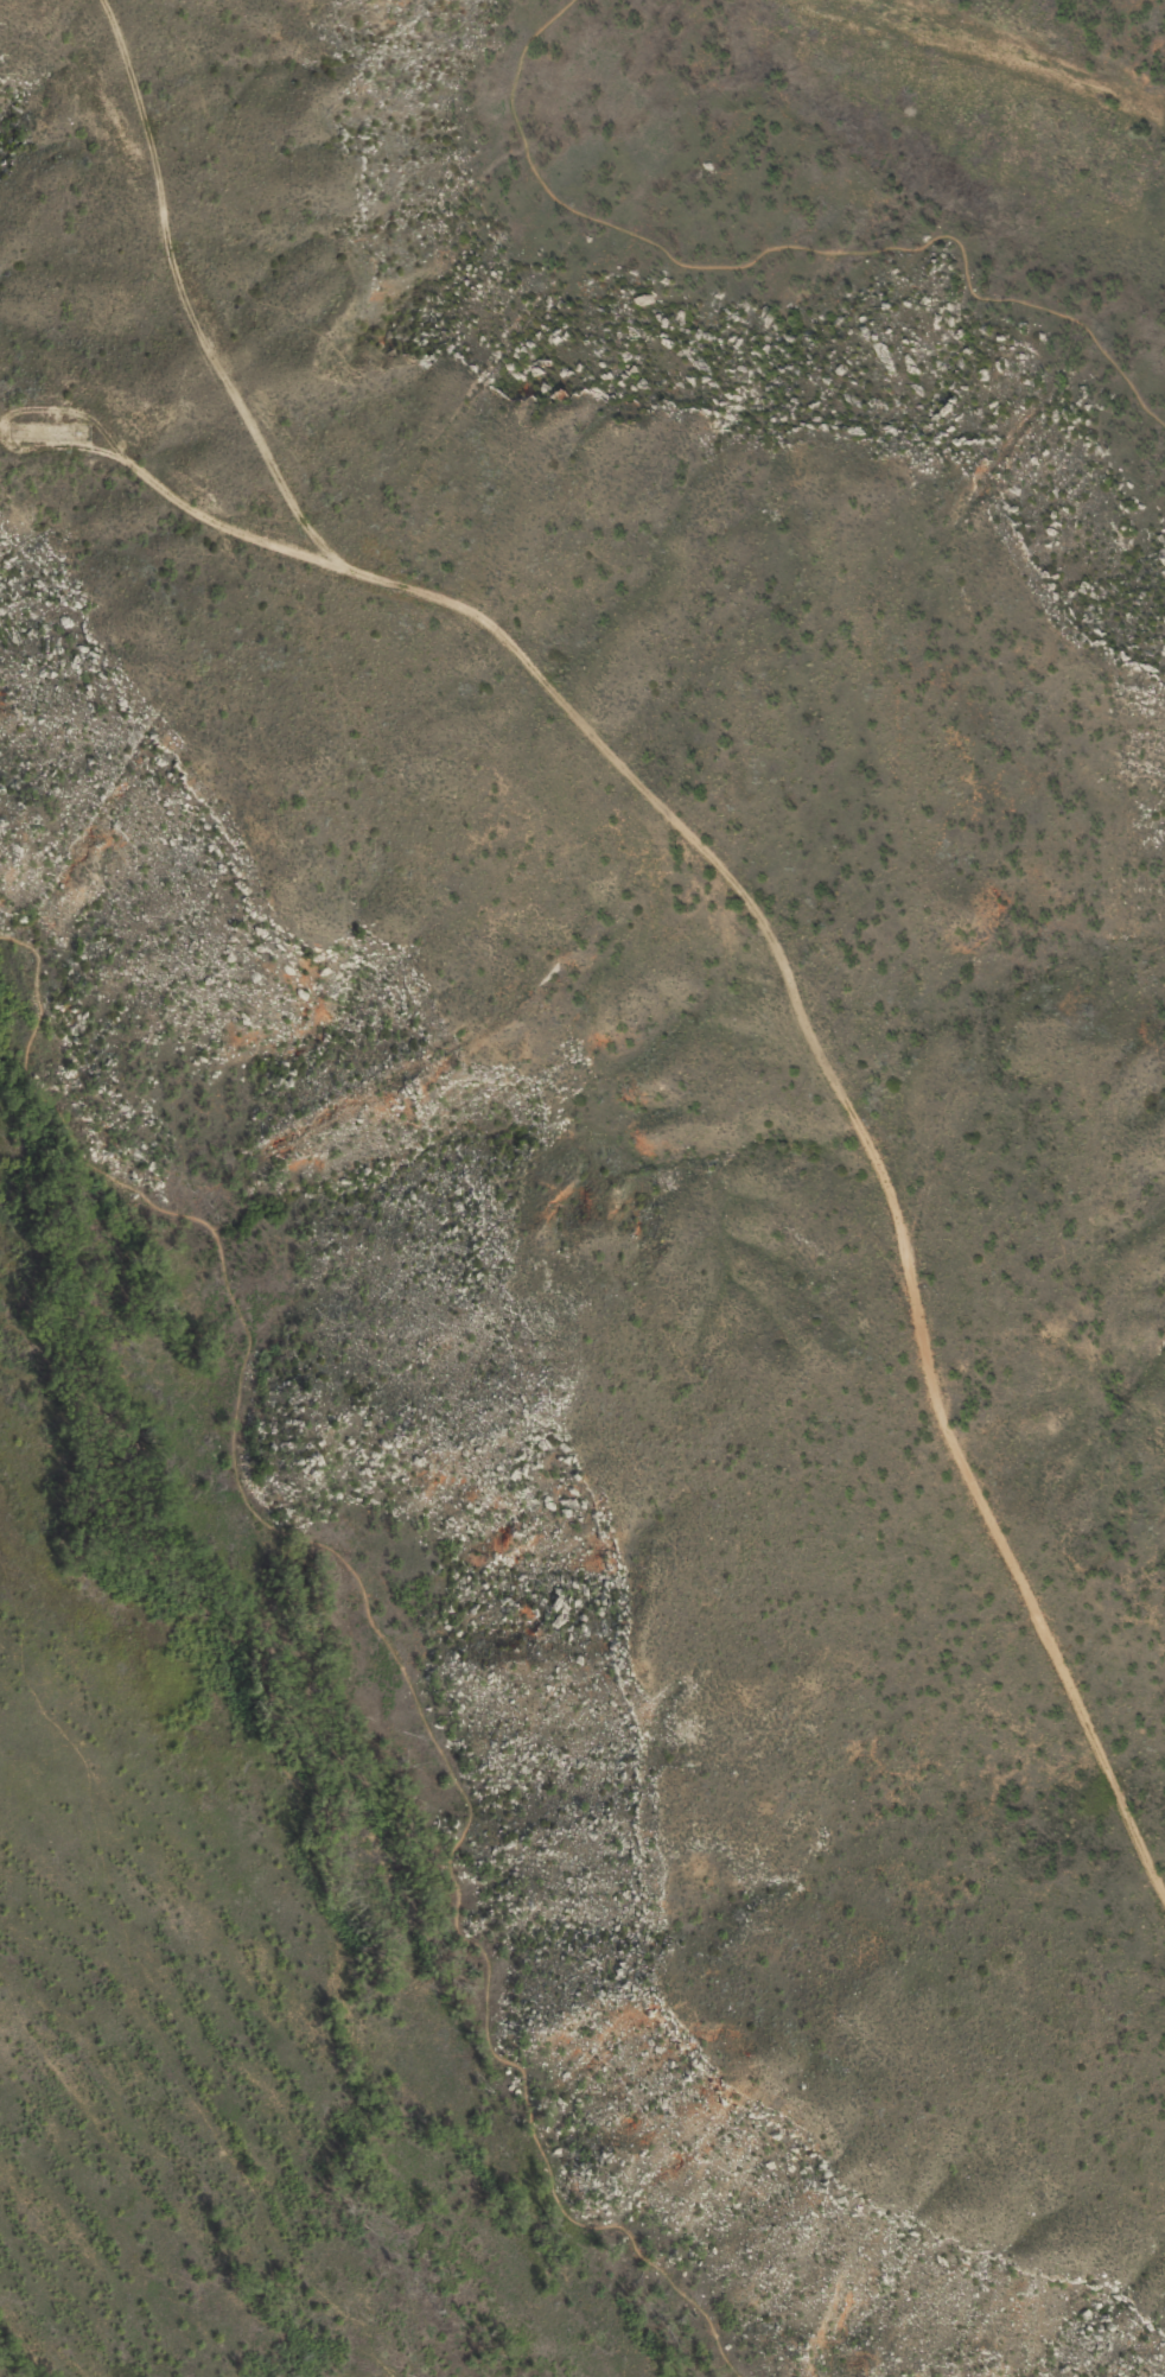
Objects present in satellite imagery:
road: (333, 545)
road: (953, 1456)

